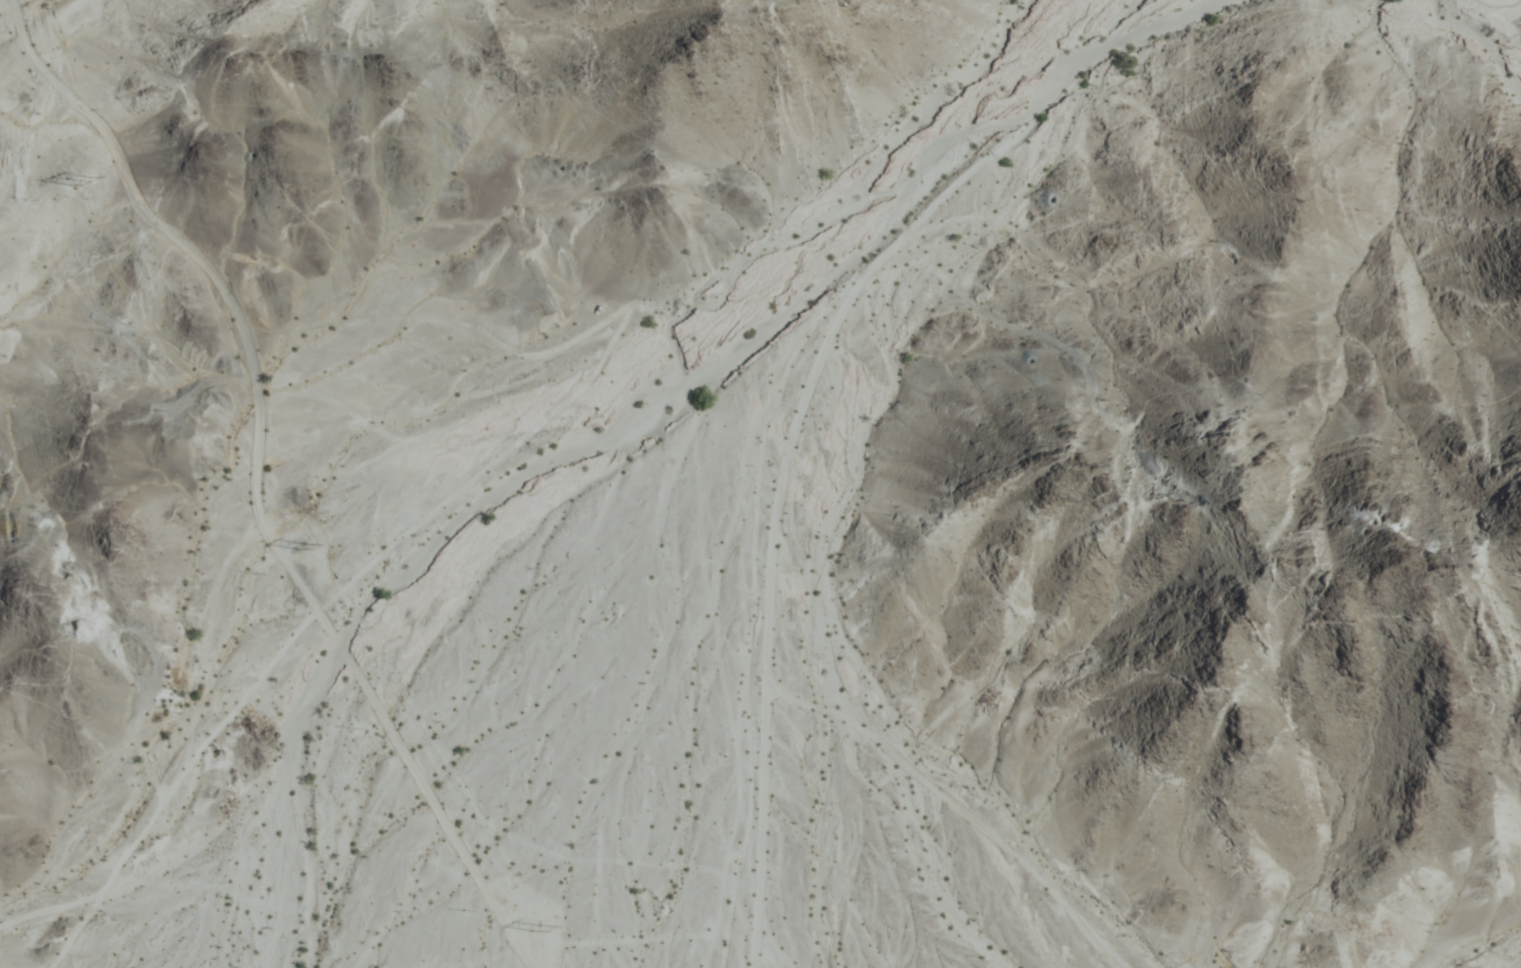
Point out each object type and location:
power tower: (68, 190)
road: (259, 478)
road: (779, 515)
power tower: (297, 550)
road: (183, 786)
road: (57, 915)
power tower: (531, 931)

